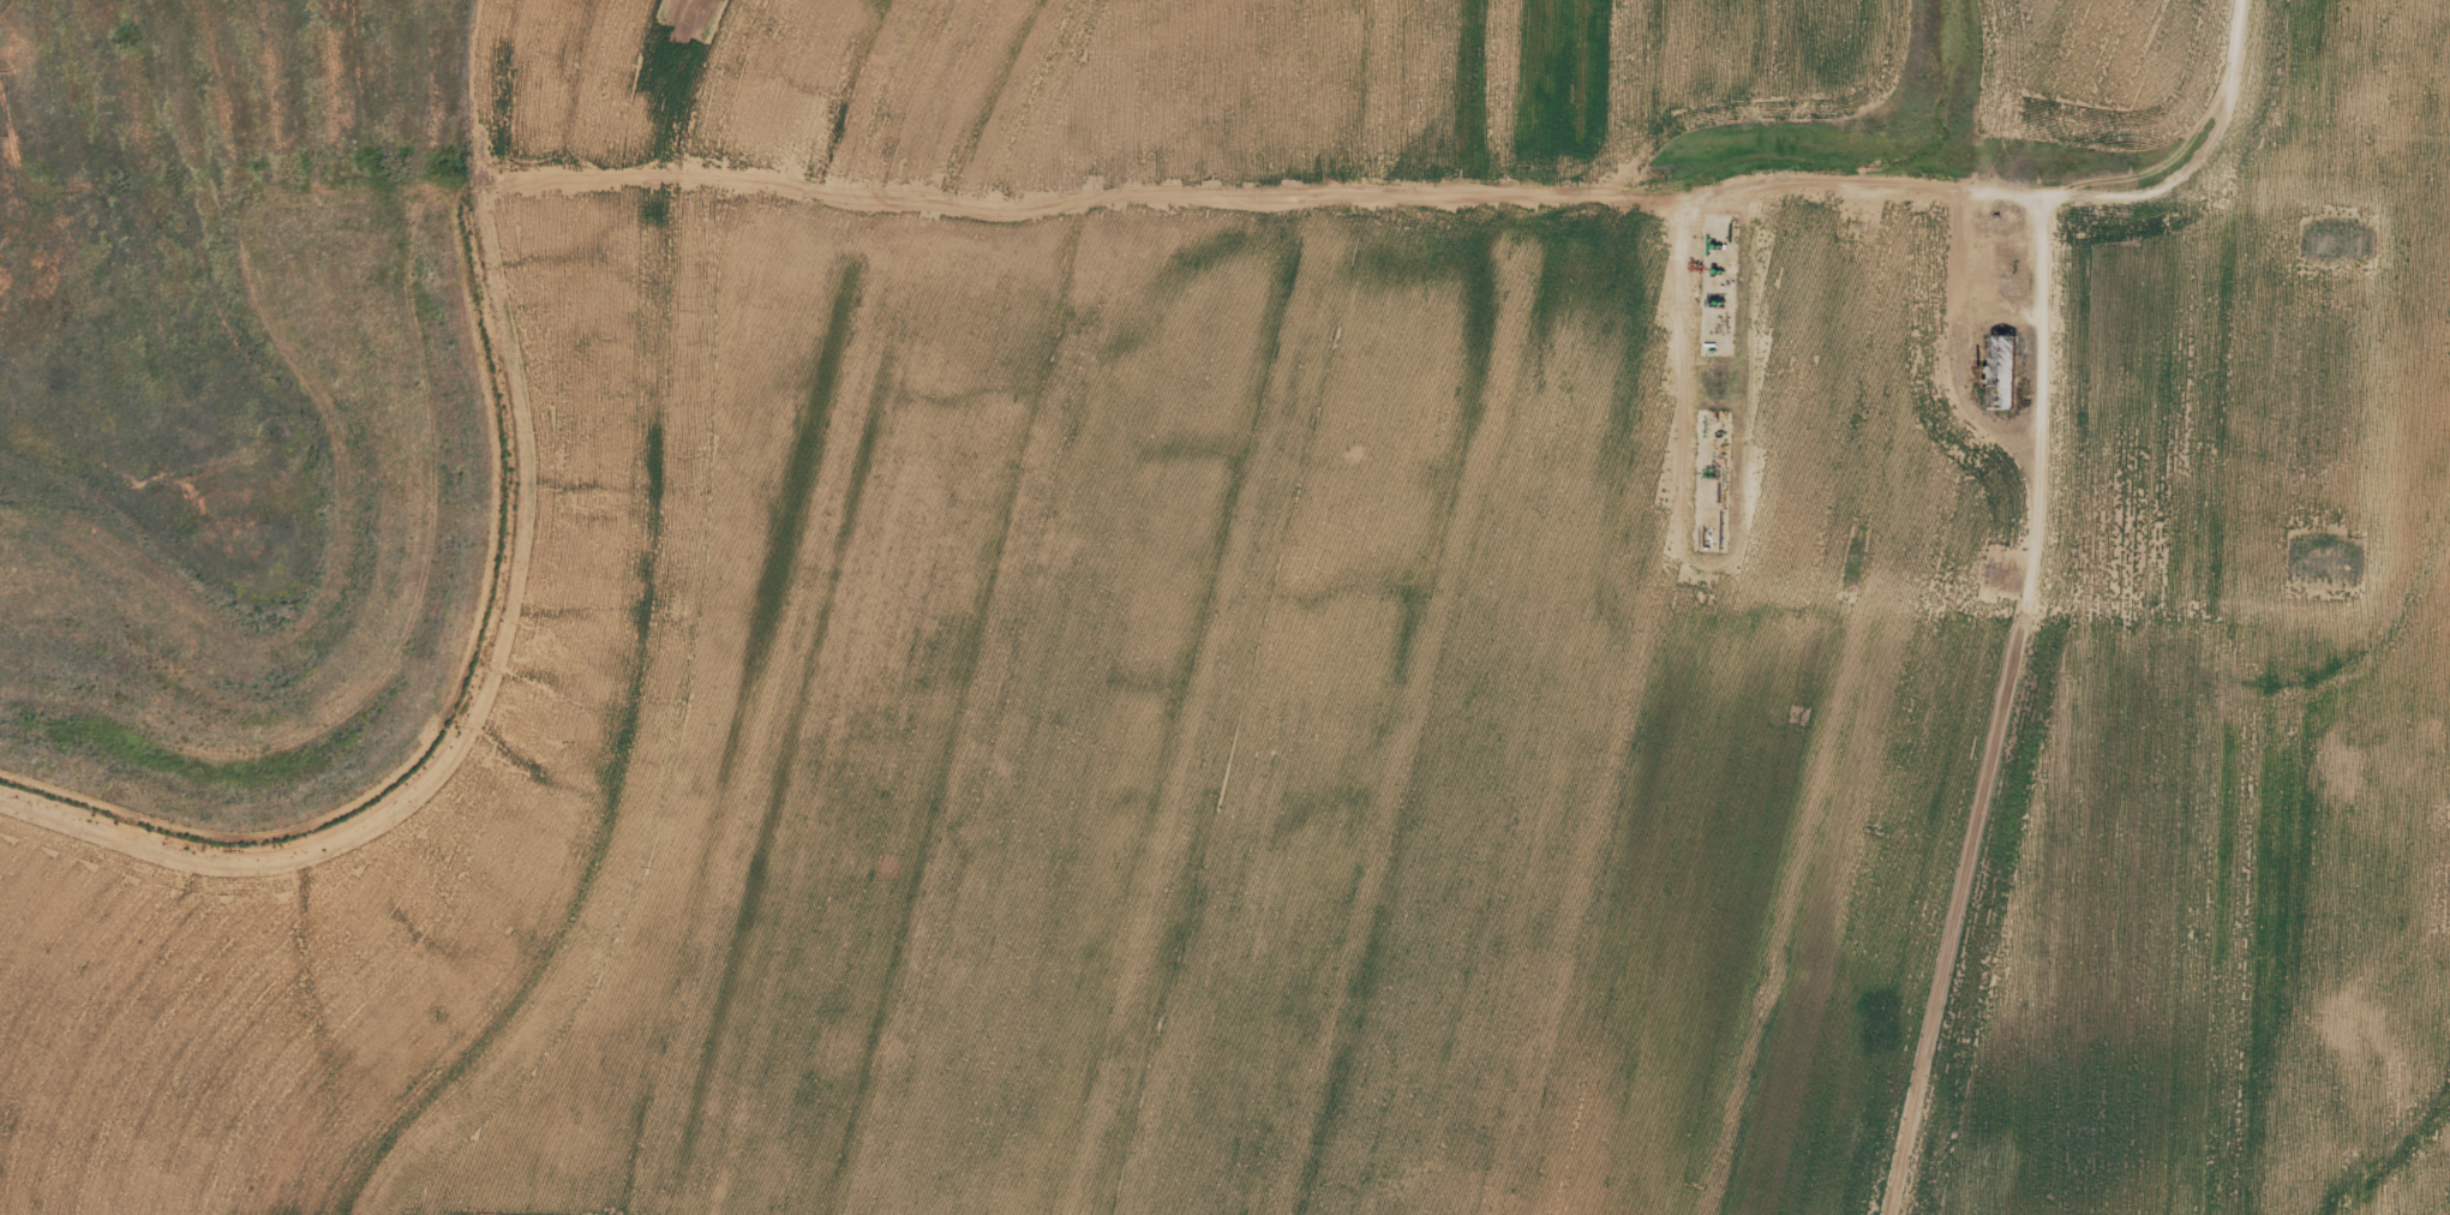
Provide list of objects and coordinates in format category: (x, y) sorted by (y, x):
road: (1885, 193)
building: (2005, 366)
airport: (2276, 737)

